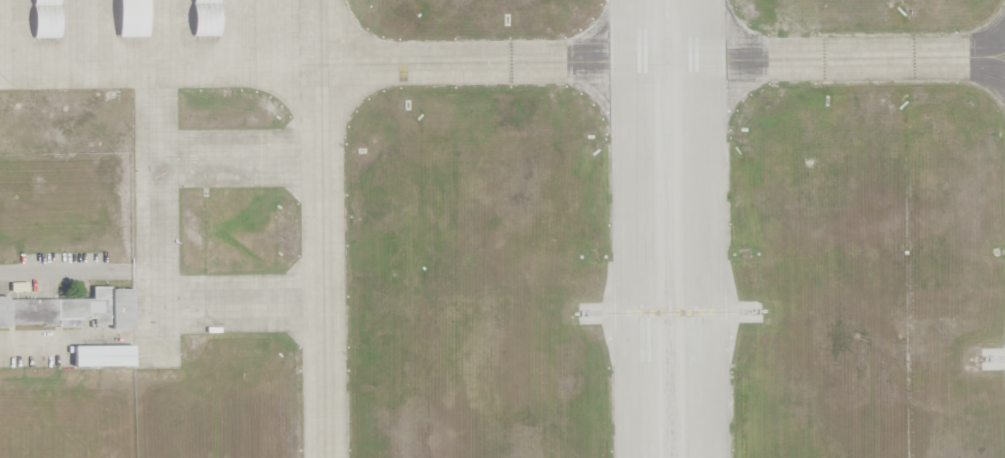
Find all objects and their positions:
airport apron: (172, 43)
airport taxiway: (319, 45)
airport taxiway: (672, 60)
airport: (597, 211)
airport runway: (668, 228)
airport taxiway: (322, 274)
building: (71, 312)
building: (102, 359)

